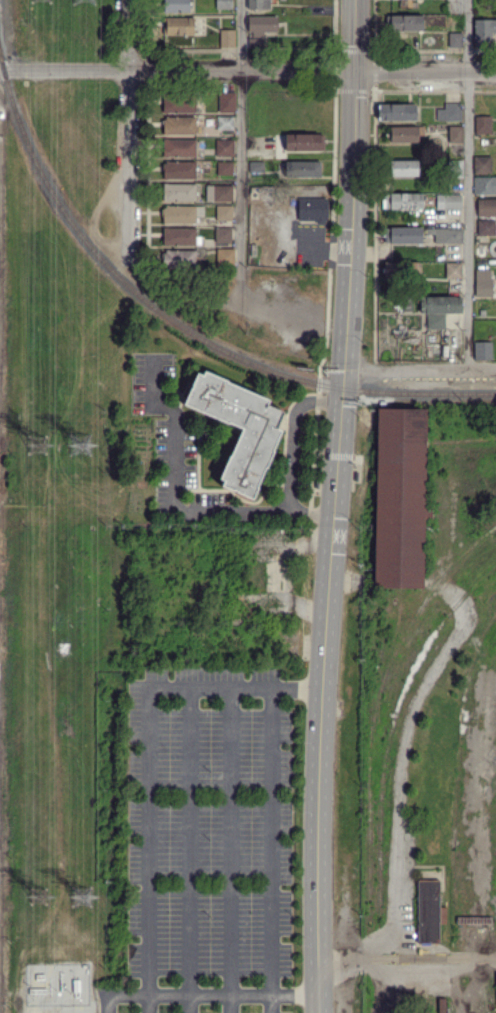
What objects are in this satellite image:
building: (408, 3)
building: (224, 4)
building: (259, 4)
building: (177, 6)
building: (405, 23)
building: (178, 26)
building: (263, 26)
building: (483, 33)
road: (356, 35)
building: (228, 39)
building: (456, 41)
road: (247, 70)
building: (226, 102)
building: (179, 104)
building: (454, 112)
building: (397, 113)
building: (2, 115)
building: (225, 123)
building: (483, 125)
building: (179, 126)
road: (127, 131)
building: (405, 135)
building: (456, 135)
road: (240, 137)
building: (304, 142)
building: (179, 148)
building: (224, 148)
building: (483, 166)
building: (257, 167)
building: (225, 169)
building: (404, 169)
building: (303, 170)
building: (455, 170)
building: (179, 171)
road: (467, 183)
building: (485, 186)
building: (179, 193)
building: (226, 194)
building: (403, 202)
building: (452, 203)
building: (486, 208)
building: (313, 210)
building: (224, 213)
building: (181, 214)
railway: (67, 216)
road: (353, 218)
building: (487, 228)
building: (224, 235)
building: (446, 235)
building: (404, 236)
building: (180, 237)
building: (223, 257)
building: (180, 259)
building: (402, 270)
building: (452, 271)
building: (484, 284)
building: (442, 305)
building: (483, 313)
building: (436, 322)
building: (482, 352)
road: (421, 367)
railway: (341, 388)
road: (292, 434)
power tower: (43, 441)
power tower: (83, 443)
parking lot: (171, 443)
building: (251, 446)
road: (337, 455)
road: (177, 482)
building: (400, 498)
road: (311, 512)
road: (297, 689)
road: (322, 689)
railway: (378, 707)
railway: (392, 730)
railway: (459, 769)
road: (150, 789)
parking lot: (209, 844)
road: (190, 851)
road: (231, 851)
road: (272, 851)
power tower: (83, 889)
building: (429, 912)
road: (378, 943)
road: (400, 976)
building: (40, 977)
building: (80, 977)
building: (65, 981)
building: (80, 990)
building: (65, 991)
building: (39, 992)
road: (181, 995)
road: (296, 995)
building: (442, 1001)

